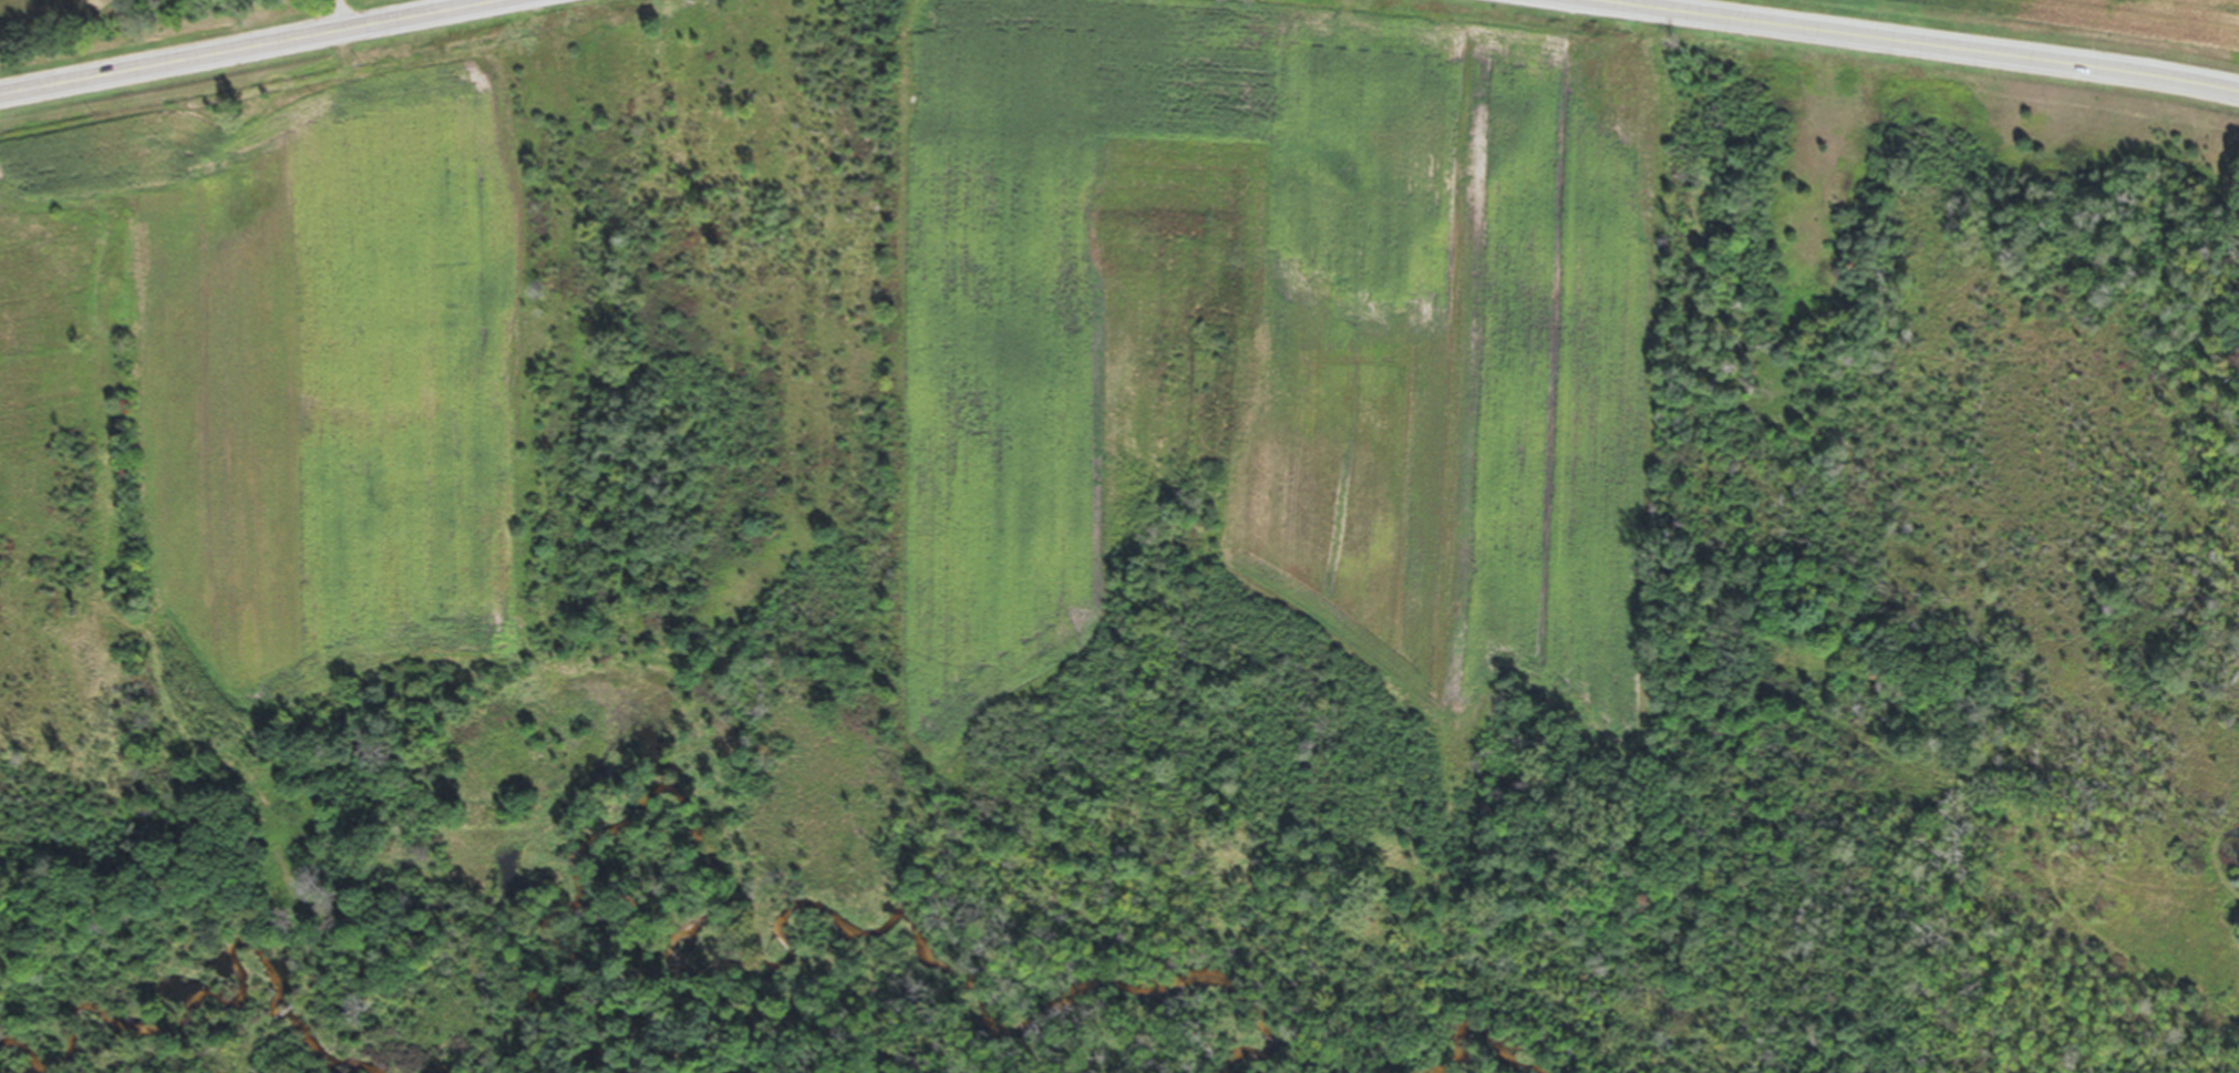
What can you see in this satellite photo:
road: (1859, 50)
road: (312, 56)
crop: (1277, 342)
crop: (262, 398)

